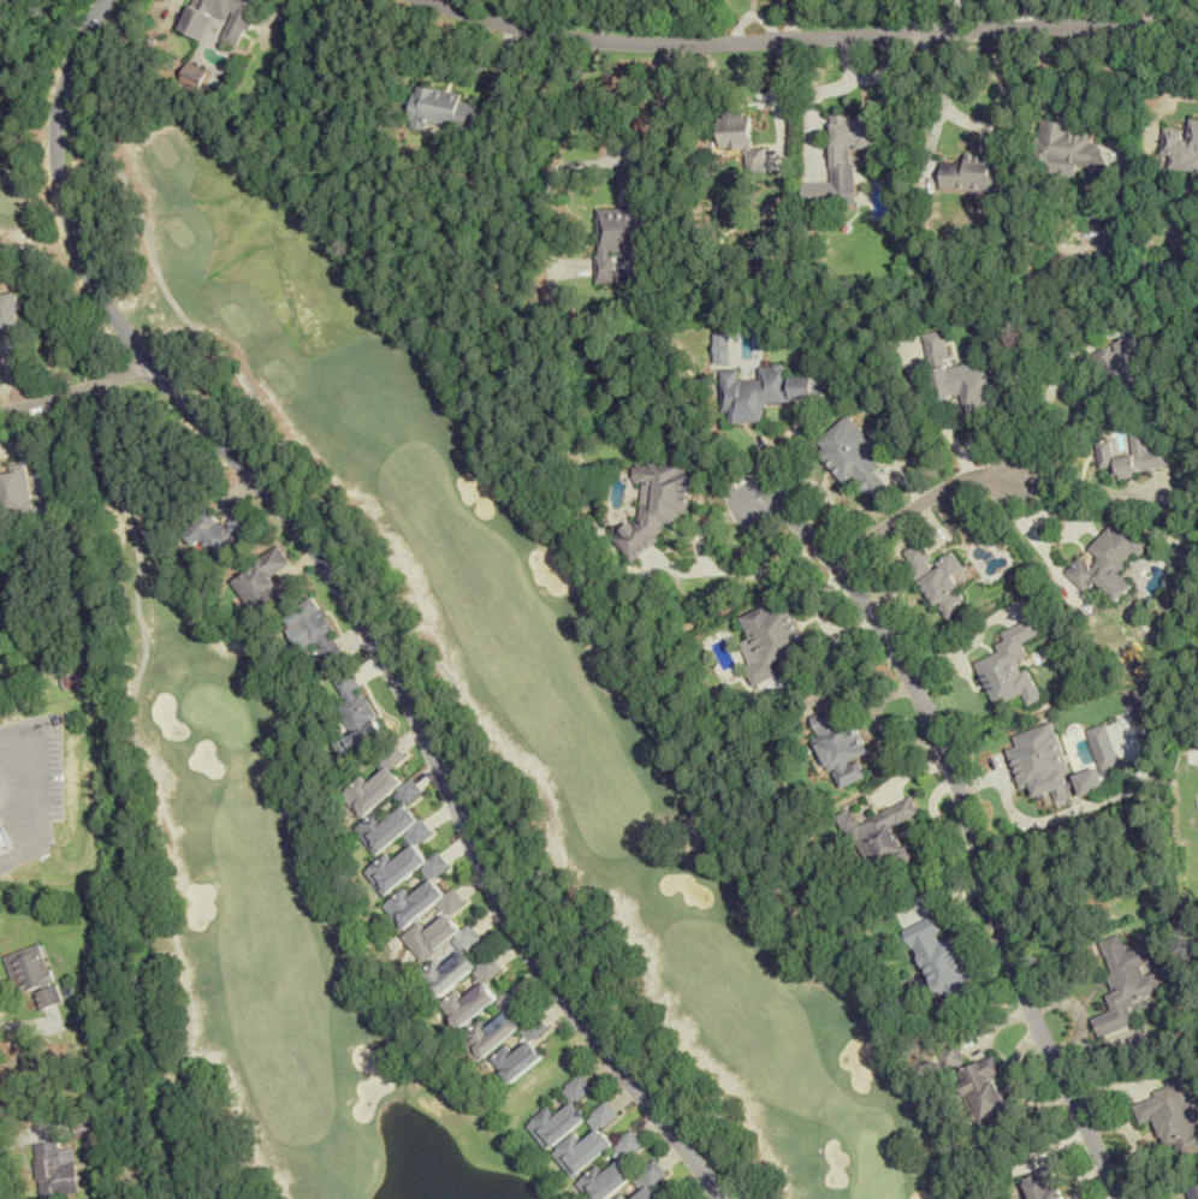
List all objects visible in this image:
building: (219, 18)
road: (802, 41)
building: (192, 76)
building: (441, 111)
road: (660, 113)
building: (852, 136)
building: (740, 137)
building: (1063, 147)
building: (1180, 147)
building: (972, 173)
building: (618, 238)
building: (7, 314)
building: (1116, 368)
building: (966, 375)
road: (75, 391)
building: (761, 393)
road: (1034, 420)
building: (1132, 455)
building: (852, 458)
building: (25, 501)
building: (654, 504)
road: (912, 506)
building: (219, 532)
building: (1107, 560)
building: (936, 577)
building: (261, 581)
road: (351, 601)
building: (316, 630)
building: (770, 639)
building: (1008, 666)
building: (355, 714)
building: (840, 746)
building: (89, 754)
building: (374, 783)
building: (409, 791)
building: (5, 805)
road: (969, 827)
building: (879, 832)
building: (410, 848)
building: (433, 932)
building: (932, 944)
building: (487, 968)
building: (30, 974)
building: (1123, 984)
building: (511, 997)
building: (467, 1004)
building: (491, 1032)
building: (516, 1059)
building: (979, 1085)
building: (561, 1115)
building: (1172, 1116)
building: (586, 1142)
building: (54, 1169)
building: (610, 1171)
building: (652, 1173)
building: (1042, 1185)
building: (1193, 1192)
building: (645, 1193)
building: (619, 1197)

